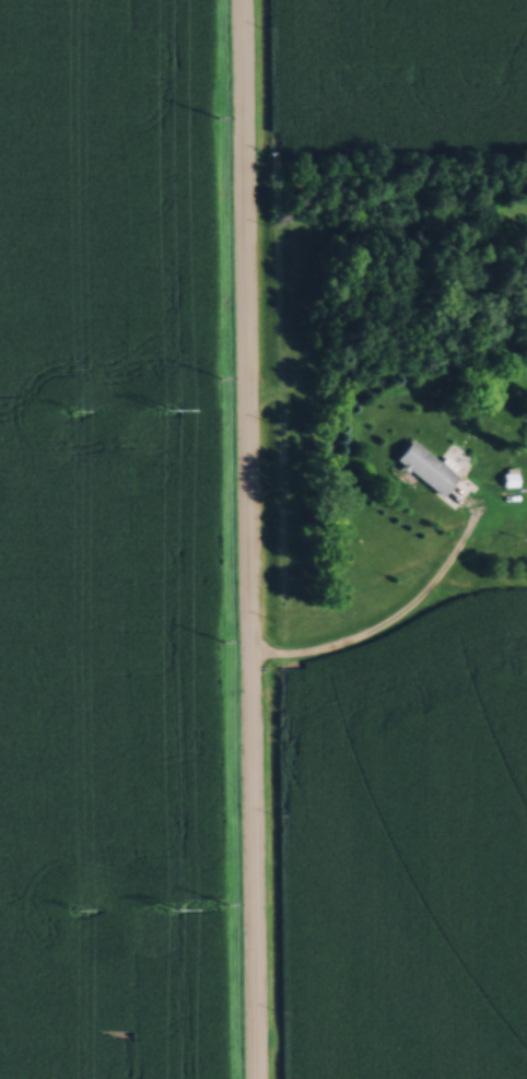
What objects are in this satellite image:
power tower: (163, 404)
power tower: (68, 408)
building: (424, 466)
road: (246, 539)
road: (384, 623)
power tower: (73, 906)
power tower: (168, 906)

